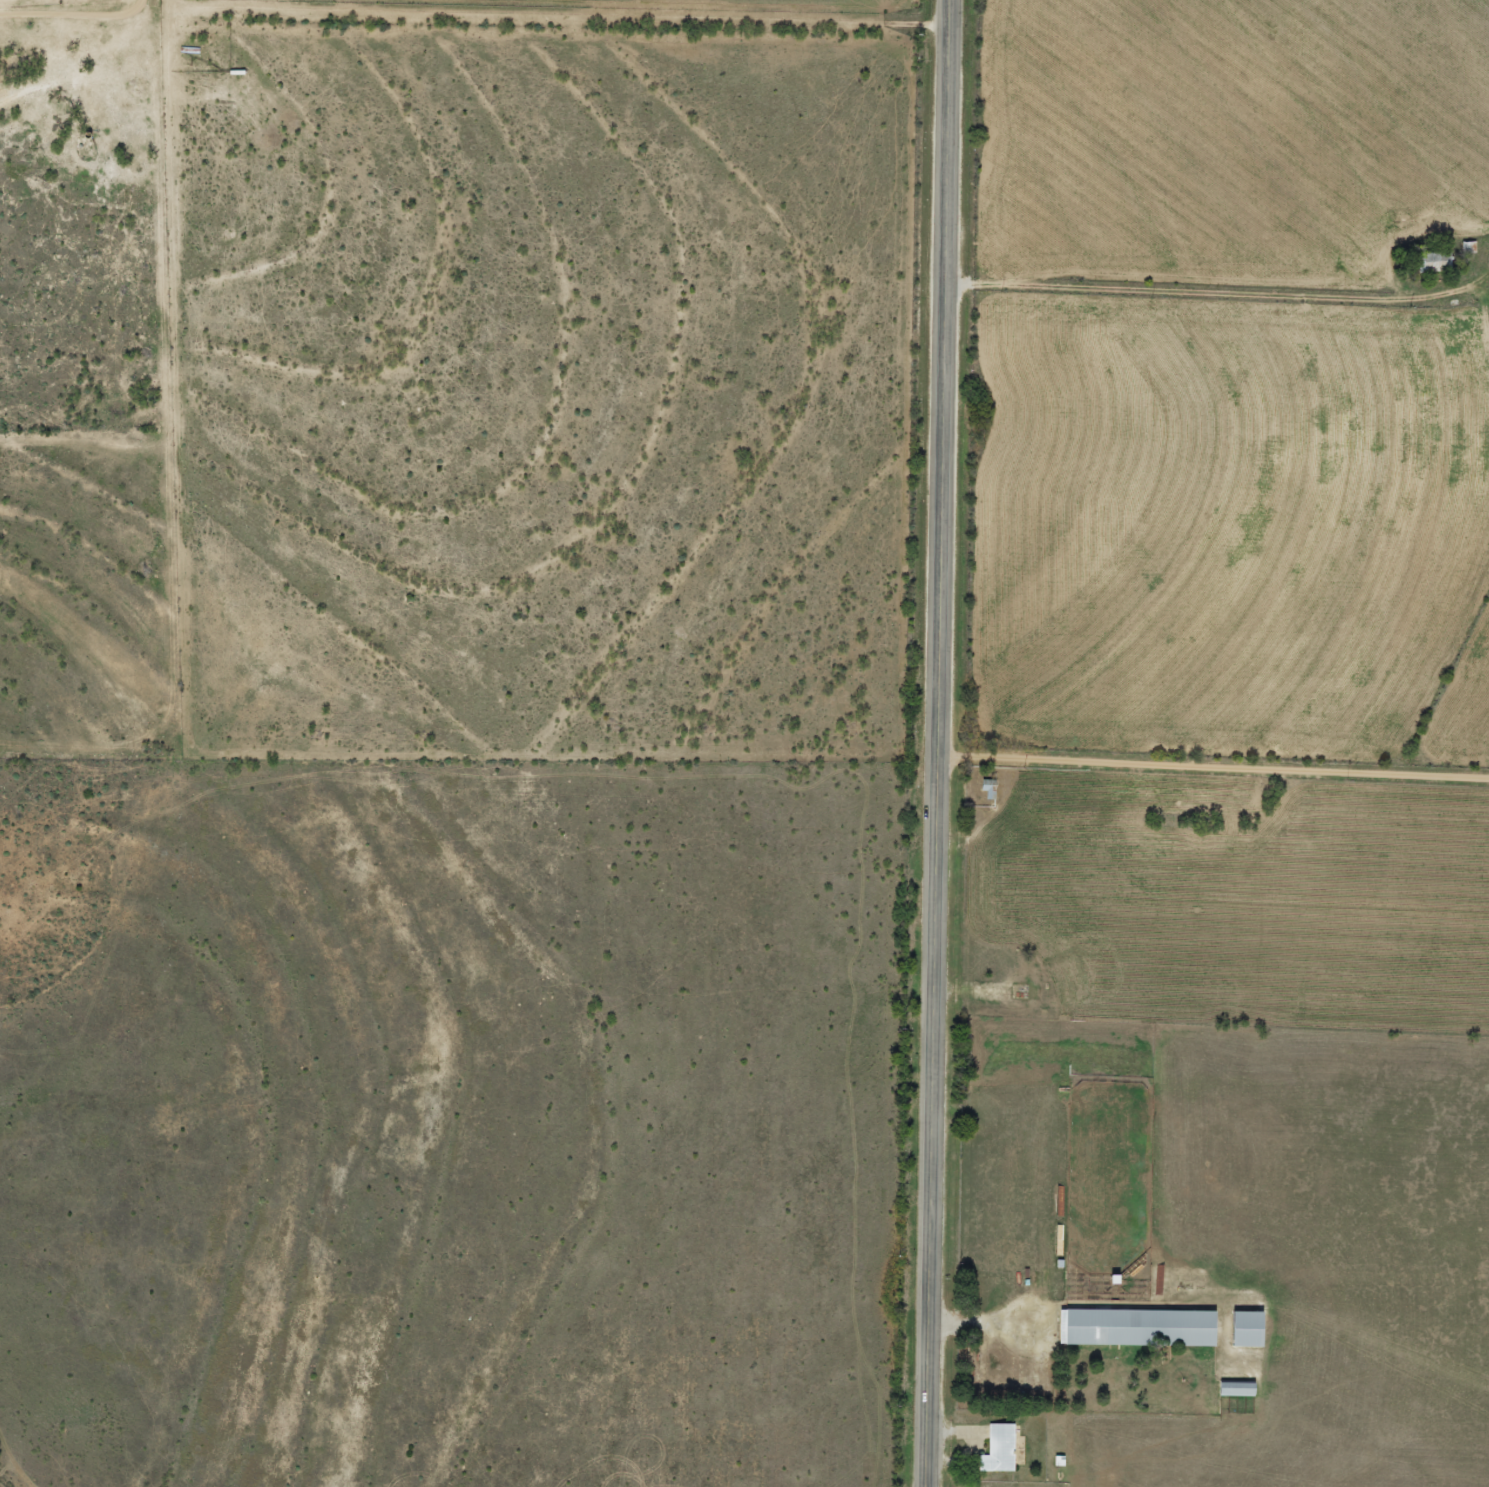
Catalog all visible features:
road: (473, 13)
road: (22, 49)
building: (1426, 260)
road: (1216, 291)
road: (935, 743)
road: (1211, 780)
building: (981, 788)
building: (1128, 1327)
building: (1237, 1328)
building: (1227, 1387)
building: (991, 1448)

